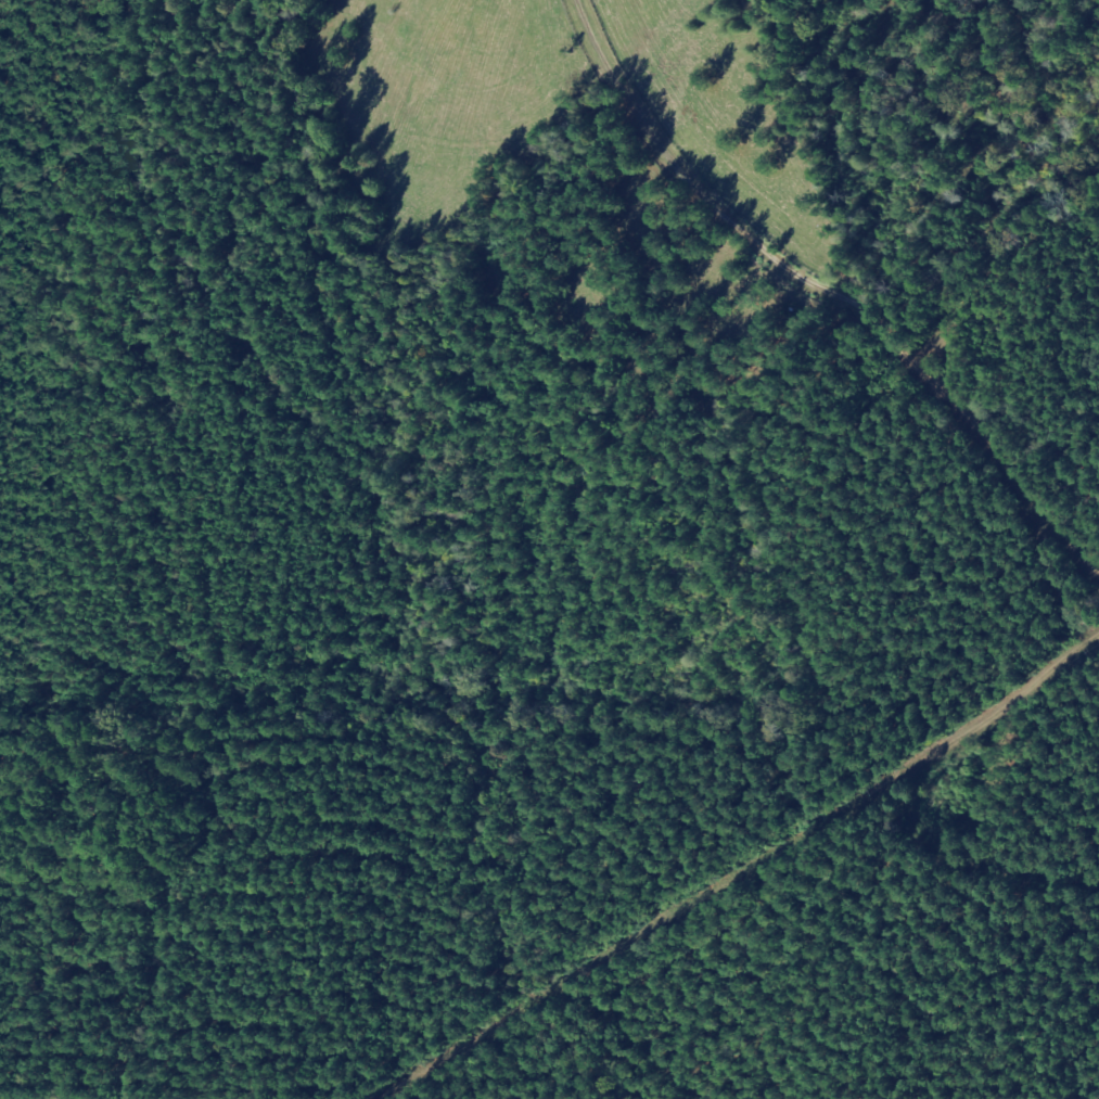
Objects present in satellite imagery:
road: (972, 432)

